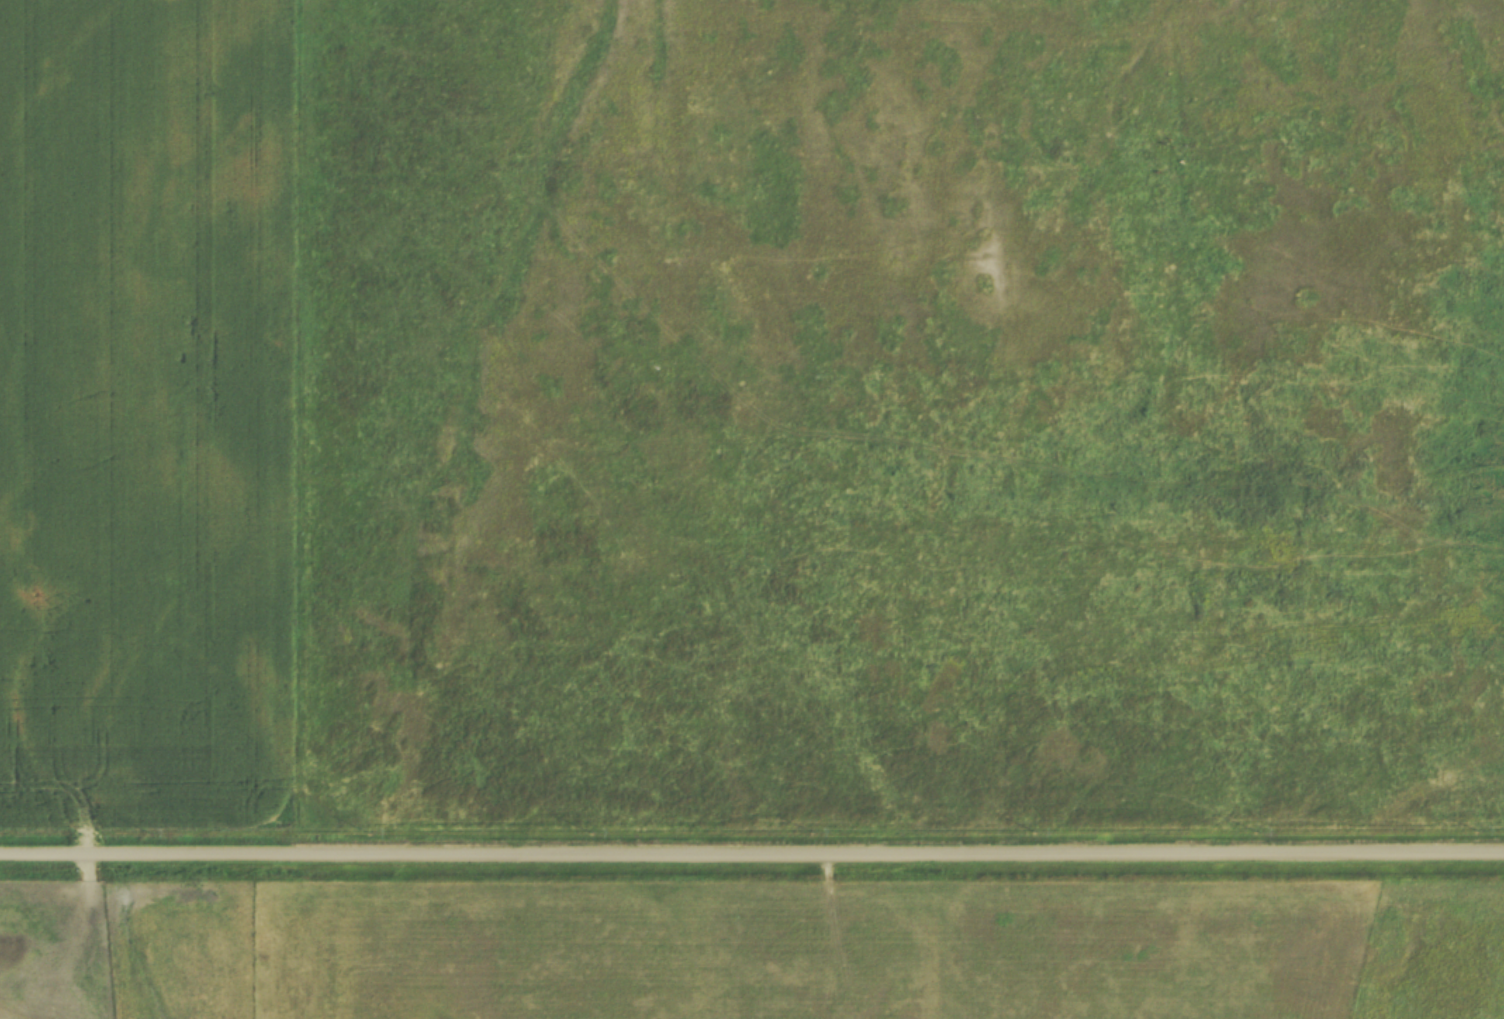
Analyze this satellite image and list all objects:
road: (752, 847)

